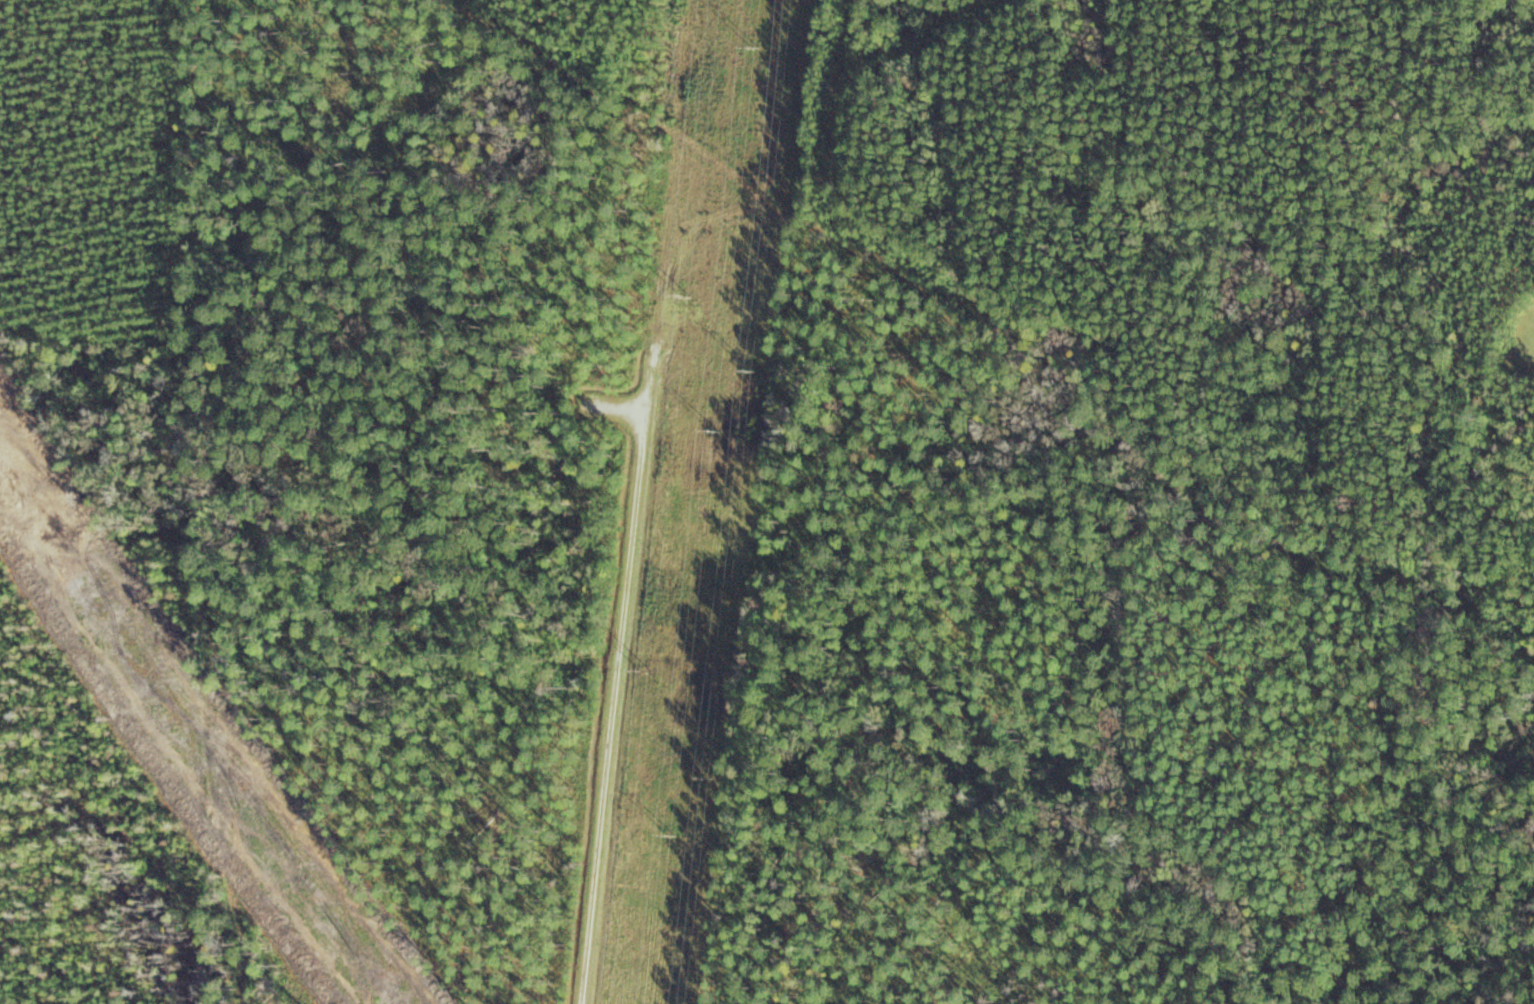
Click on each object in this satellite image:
power tower: (755, 47)
power tower: (687, 298)
power tower: (752, 370)
power tower: (714, 432)
power tower: (646, 672)
power tower: (711, 777)
power tower: (673, 836)

